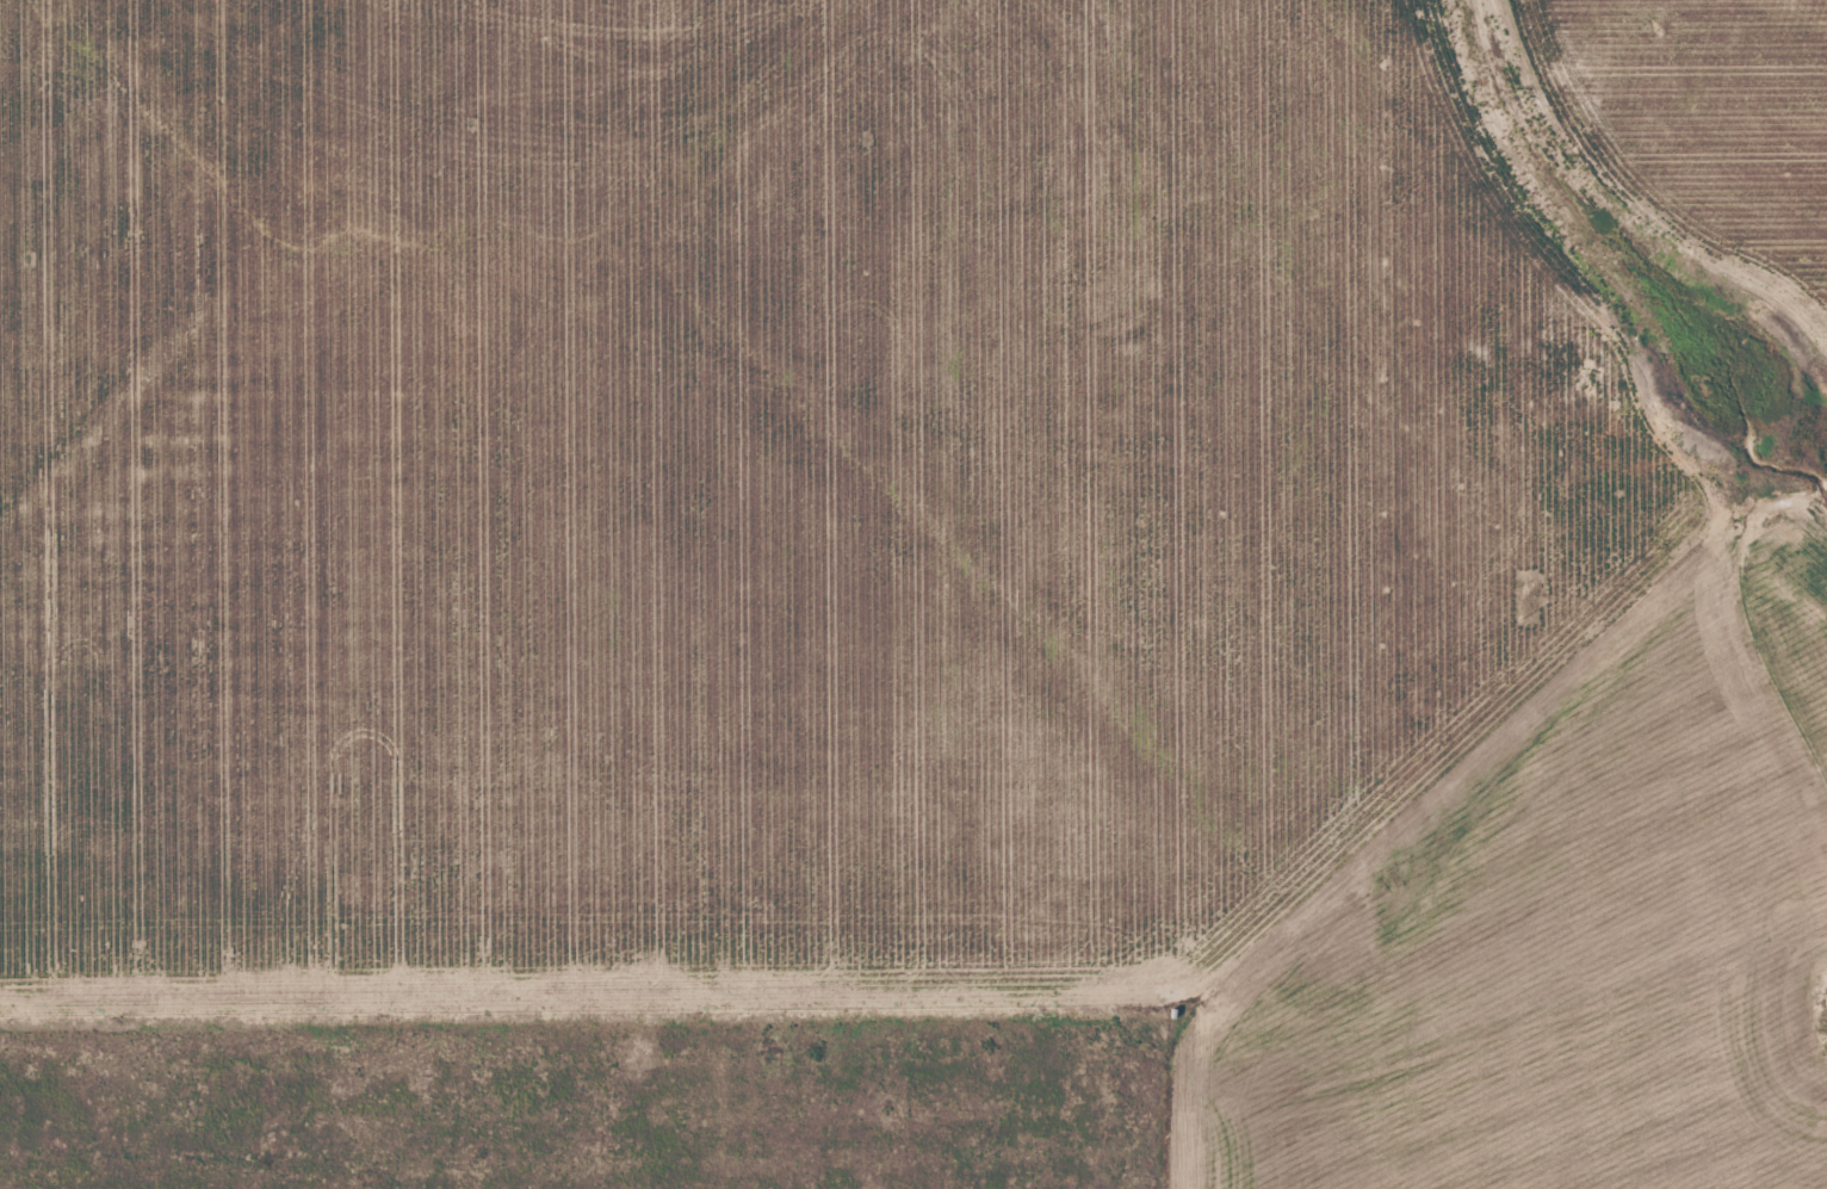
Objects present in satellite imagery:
road: (1739, 581)

